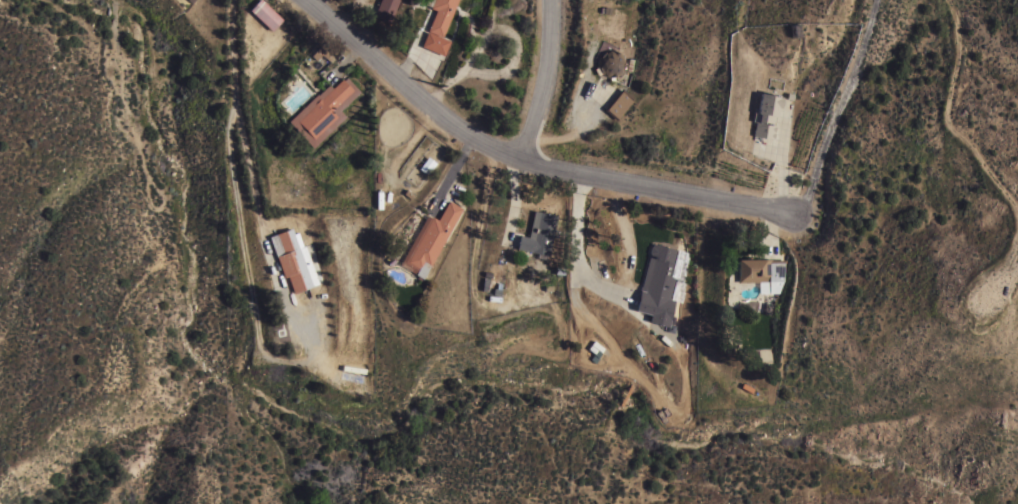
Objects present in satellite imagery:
building: (385, 9)
building: (264, 14)
building: (438, 26)
building: (321, 53)
building: (610, 63)
road: (545, 82)
building: (618, 103)
building: (323, 110)
building: (765, 115)
road: (248, 155)
road: (638, 186)
building: (538, 233)
building: (431, 238)
road: (577, 254)
building: (293, 260)
building: (759, 269)
building: (657, 284)

